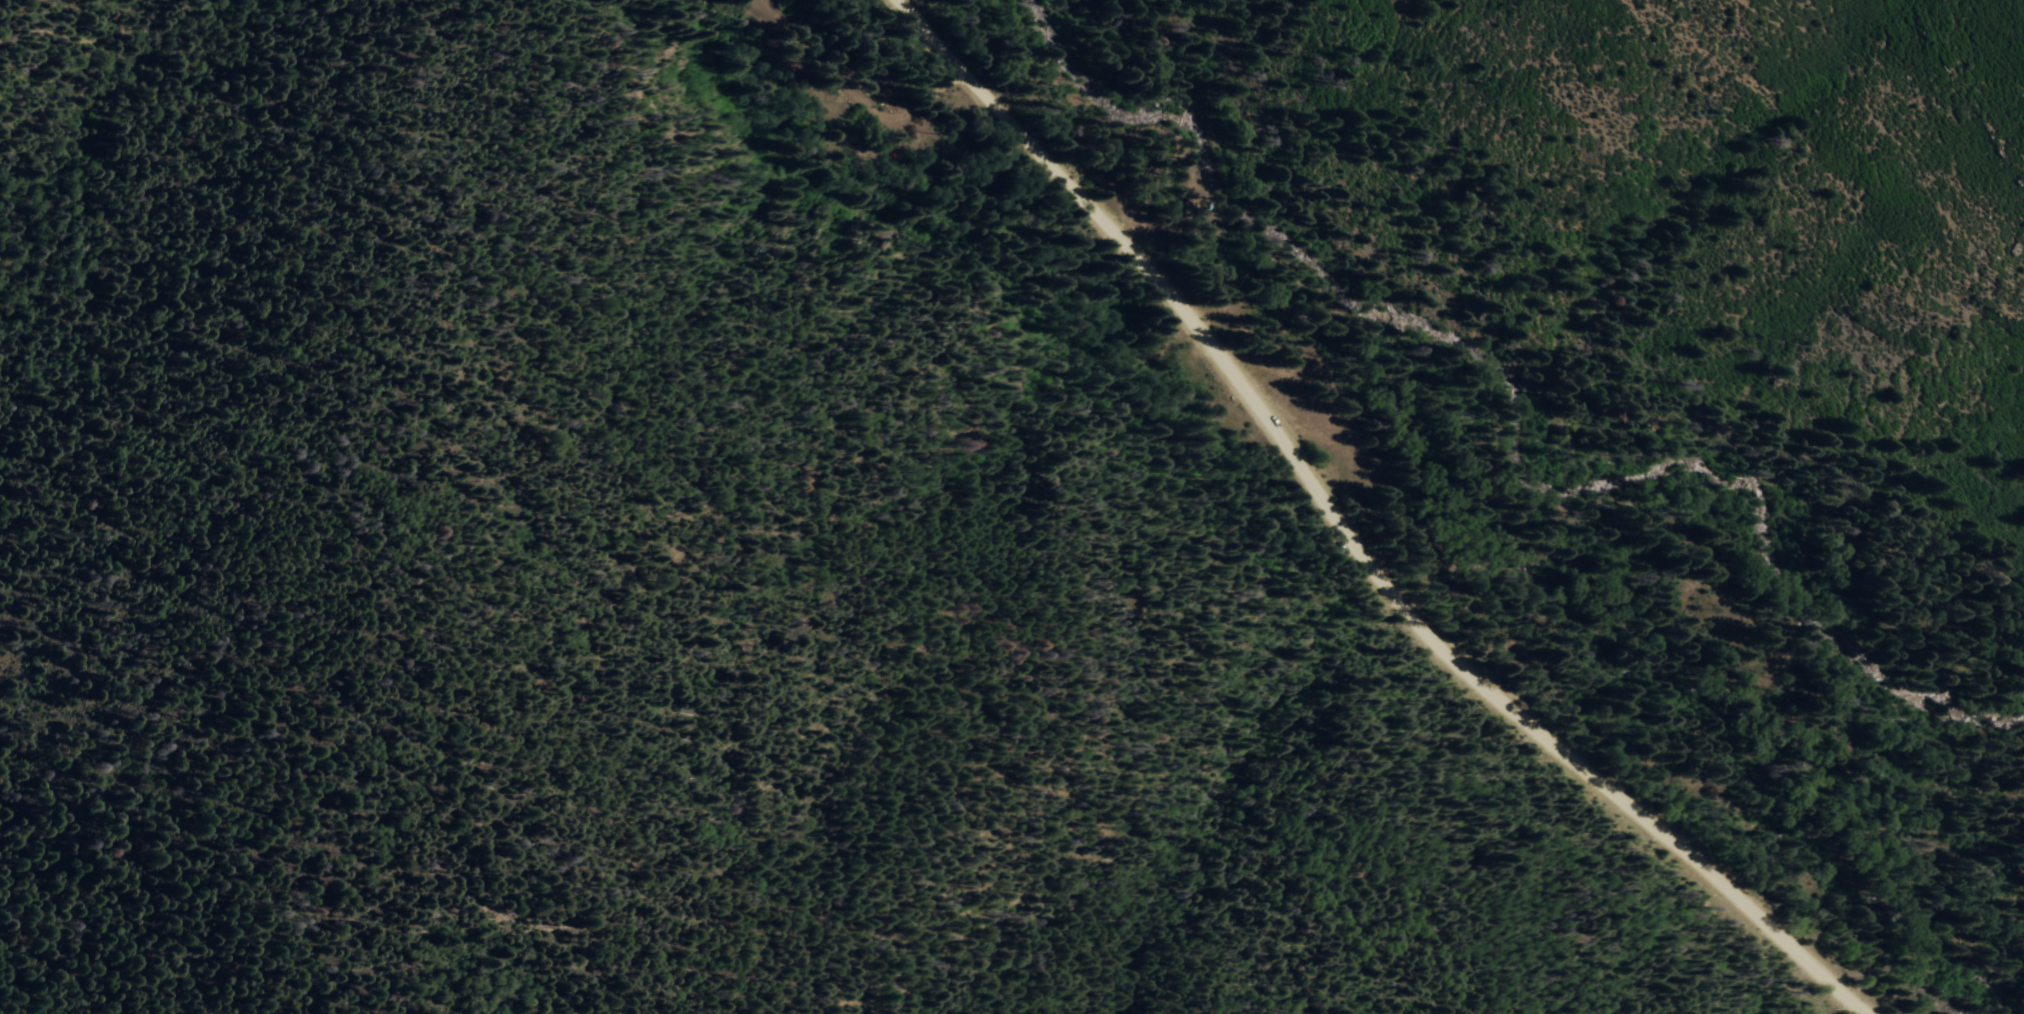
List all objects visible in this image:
river: (1493, 414)
road: (1352, 536)

